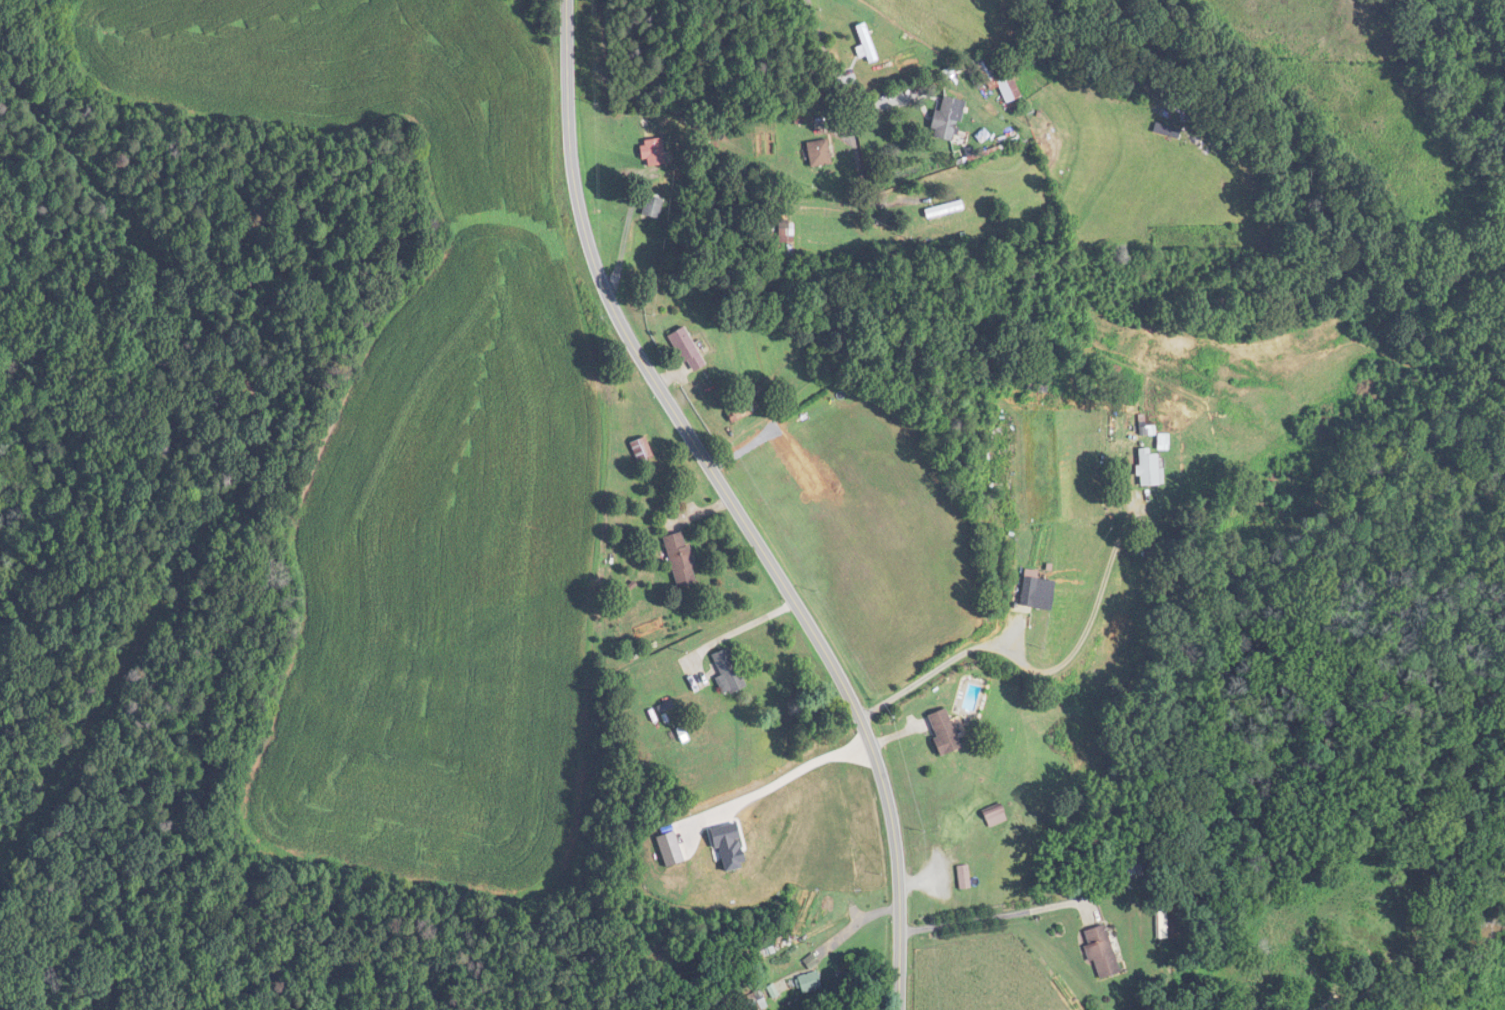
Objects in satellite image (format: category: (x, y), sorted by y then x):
building: (867, 43)
building: (1000, 75)
building: (948, 117)
road: (837, 122)
building: (654, 151)
building: (820, 152)
building: (654, 206)
road: (628, 224)
building: (787, 230)
road: (913, 300)
building: (688, 349)
building: (643, 449)
building: (1144, 467)
road: (715, 474)
building: (682, 557)
building: (1033, 591)
road: (1088, 623)
road: (738, 629)
building: (729, 671)
road: (935, 671)
building: (941, 731)
road: (793, 772)
building: (992, 816)
building: (1125, 867)
building: (961, 877)
road: (992, 917)
building: (1157, 925)
building: (1097, 952)
building: (813, 961)
road: (899, 977)
building: (811, 983)
building: (756, 1002)

